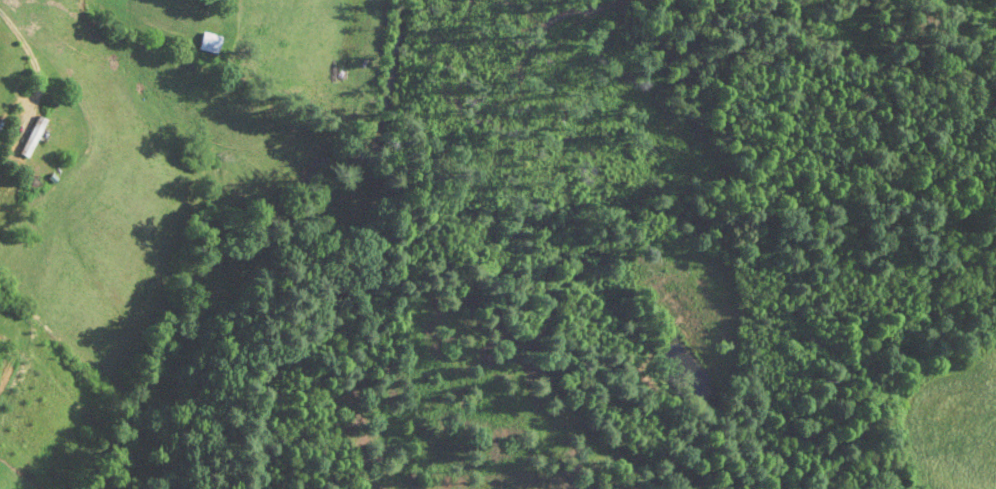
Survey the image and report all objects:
building: (210, 1)
building: (204, 44)
road: (21, 45)
building: (29, 138)

